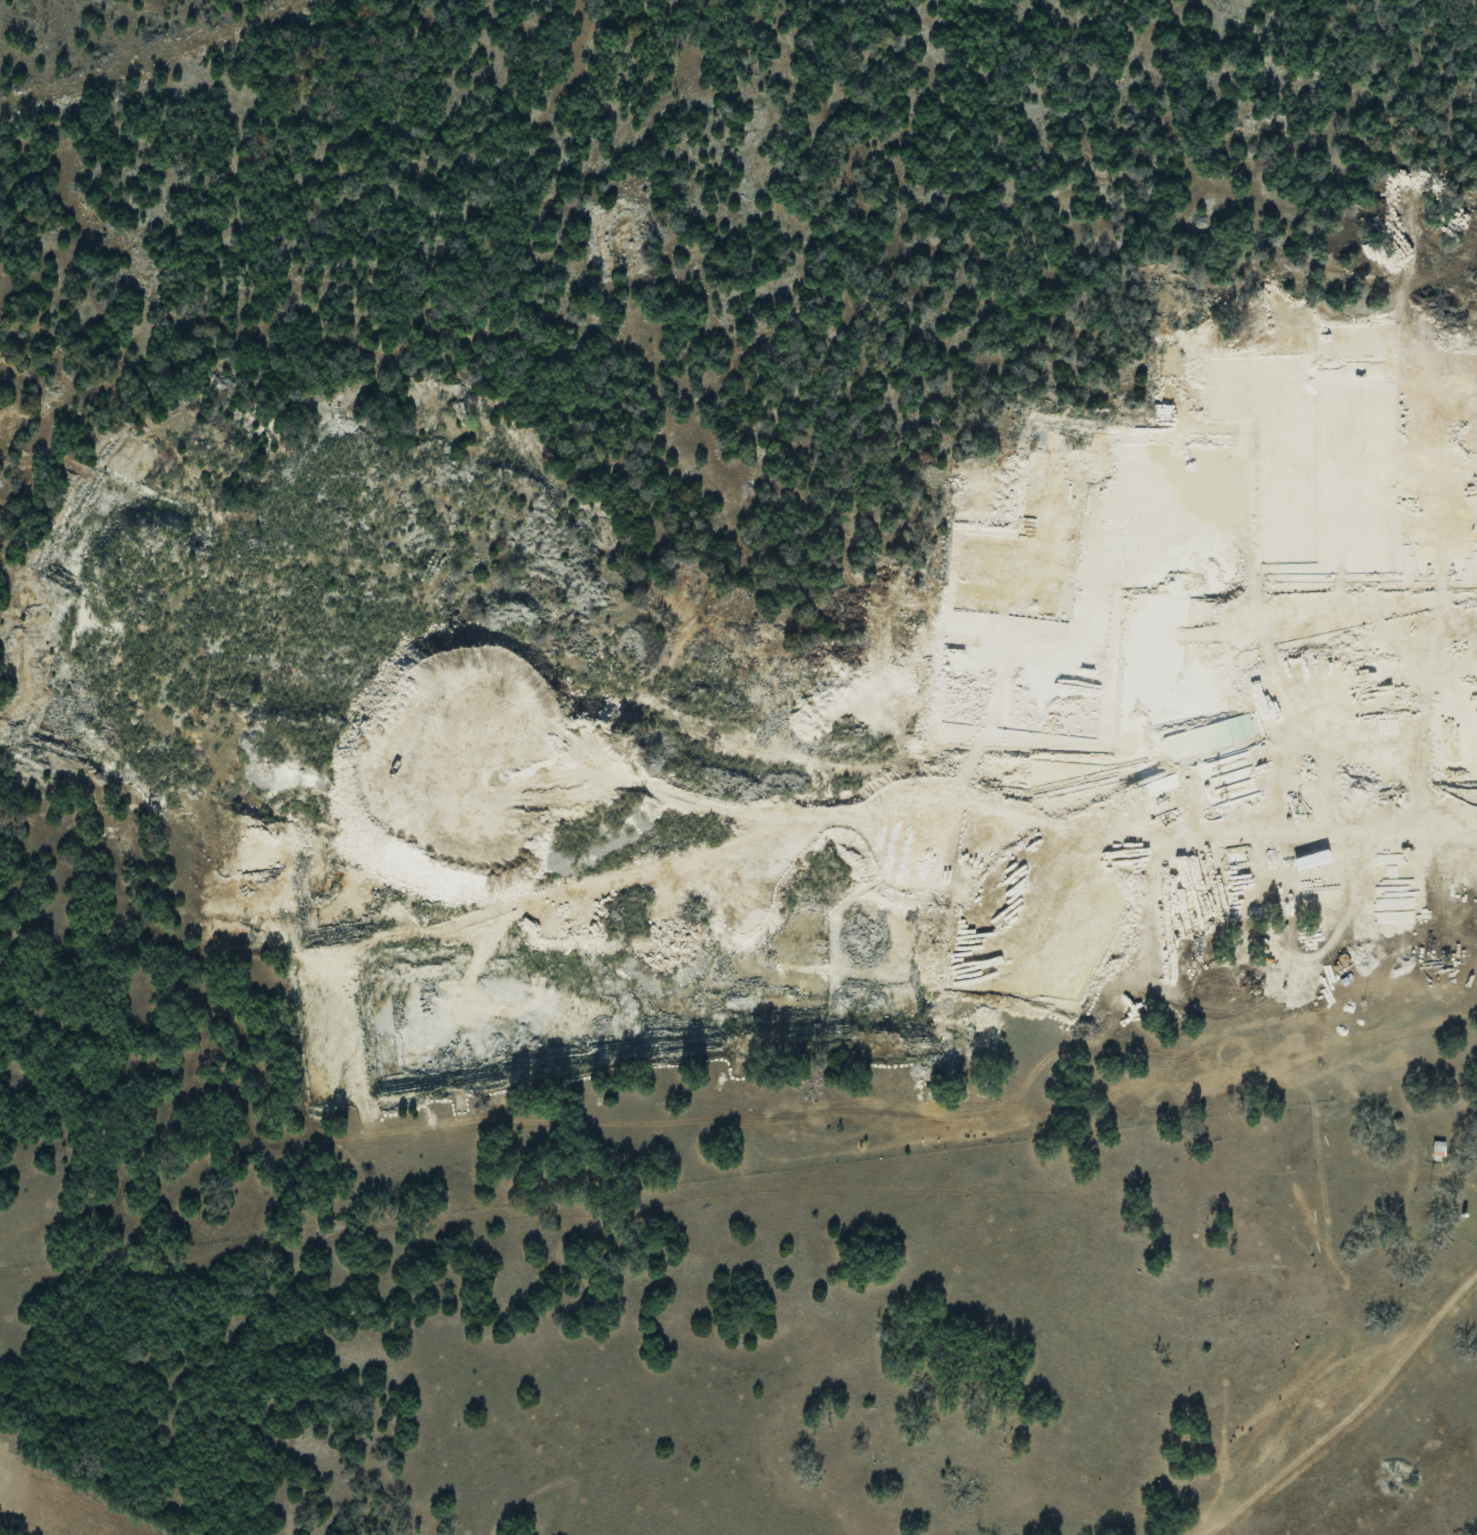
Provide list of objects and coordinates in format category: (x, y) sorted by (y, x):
quarry: (734, 763)
building: (1434, 1148)

